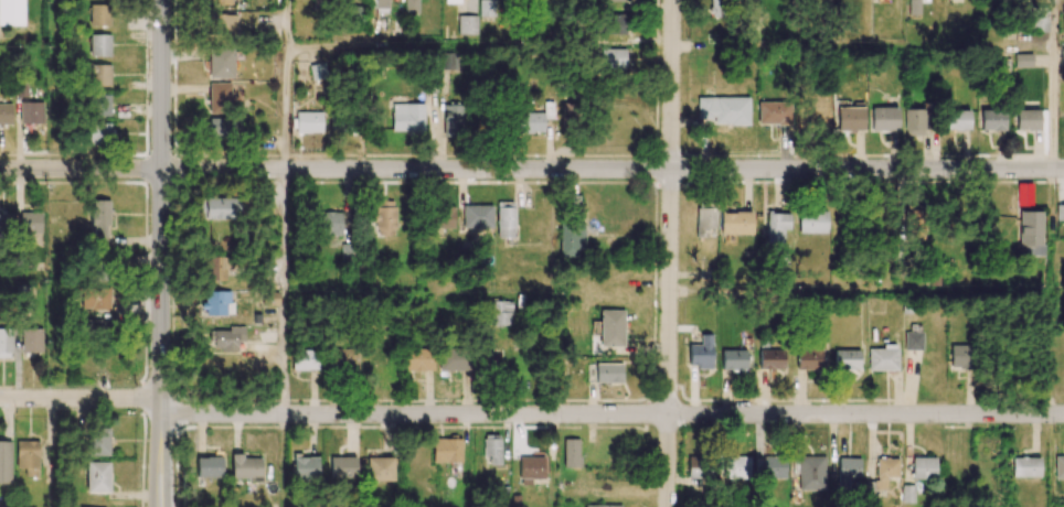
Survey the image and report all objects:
building: (608, 0)
building: (454, 1)
building: (219, 2)
building: (377, 6)
building: (411, 6)
building: (914, 7)
building: (487, 8)
building: (714, 8)
building: (11, 12)
building: (99, 14)
building: (466, 24)
building: (615, 26)
building: (99, 44)
building: (1062, 55)
building: (613, 58)
building: (1023, 60)
building: (448, 61)
building: (221, 63)
building: (317, 72)
building: (96, 74)
road: (285, 84)
building: (220, 97)
building: (99, 105)
building: (722, 110)
building: (31, 112)
building: (773, 112)
building: (6, 114)
building: (567, 114)
building: (407, 118)
building: (884, 118)
building: (536, 119)
building: (850, 119)
building: (957, 119)
building: (1026, 119)
building: (453, 120)
building: (992, 120)
building: (308, 121)
building: (913, 122)
building: (219, 129)
building: (98, 133)
road: (531, 170)
road: (161, 203)
building: (219, 208)
building: (1060, 212)
building: (477, 216)
building: (384, 217)
building: (443, 217)
building: (913, 217)
building: (504, 219)
building: (704, 220)
building: (99, 222)
building: (811, 222)
building: (6, 223)
building: (329, 223)
building: (735, 223)
building: (30, 224)
building: (775, 227)
building: (1030, 233)
building: (571, 239)
road: (669, 253)
building: (216, 268)
building: (95, 298)
building: (216, 303)
building: (501, 313)
building: (97, 327)
building: (610, 327)
building: (913, 336)
building: (226, 338)
building: (31, 341)
building: (6, 343)
building: (700, 353)
building: (348, 356)
building: (961, 356)
building: (455, 358)
building: (770, 358)
building: (808, 358)
building: (883, 358)
building: (304, 359)
building: (417, 359)
building: (733, 359)
building: (845, 359)
building: (608, 373)
road: (530, 414)
building: (97, 441)
building: (492, 449)
building: (446, 450)
road: (143, 451)
road: (177, 452)
building: (571, 453)
building: (28, 456)
road: (161, 456)
building: (4, 462)
building: (209, 466)
building: (342, 466)
building: (773, 466)
building: (245, 467)
building: (698, 467)
building: (737, 467)
building: (923, 467)
building: (1029, 467)
building: (1058, 467)
building: (304, 468)
building: (379, 468)
building: (532, 470)
building: (847, 472)
building: (810, 473)
building: (884, 473)
building: (97, 476)
building: (907, 494)
building: (606, 505)

